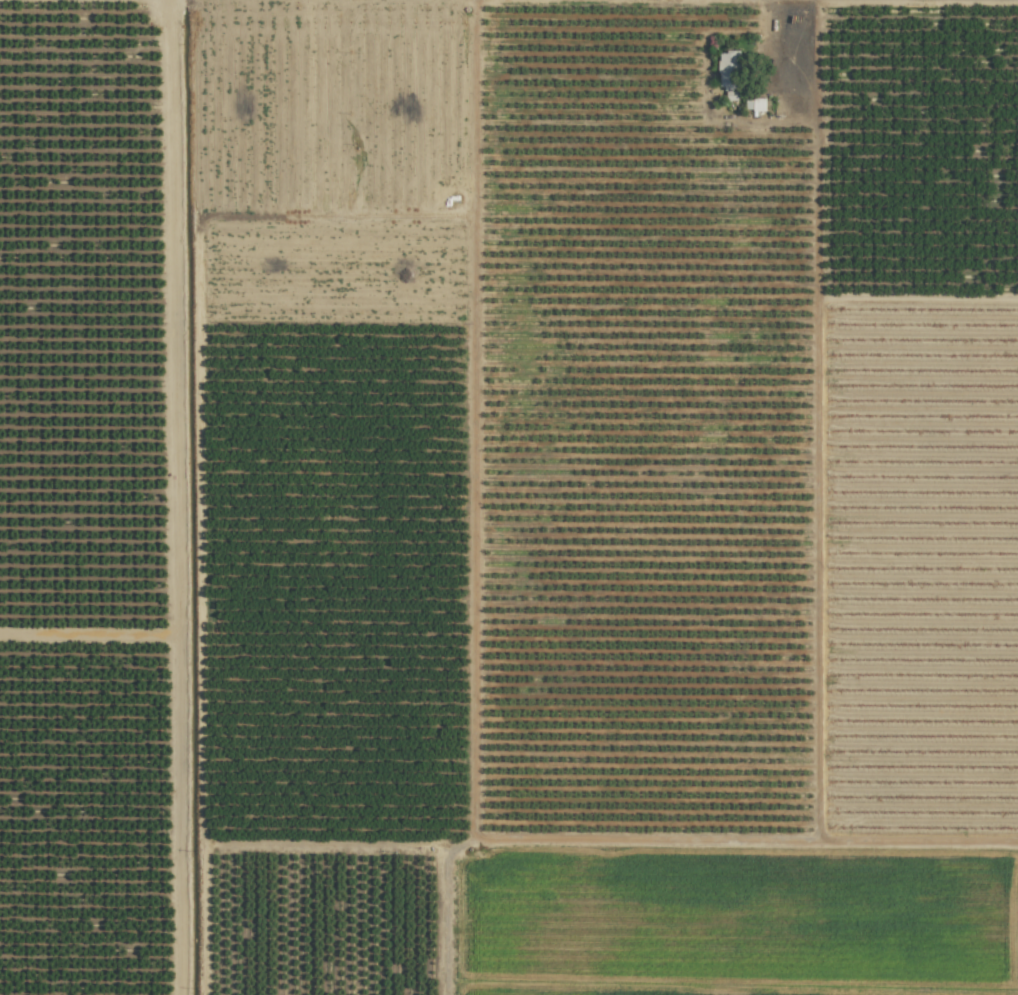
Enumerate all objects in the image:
building: (728, 73)

